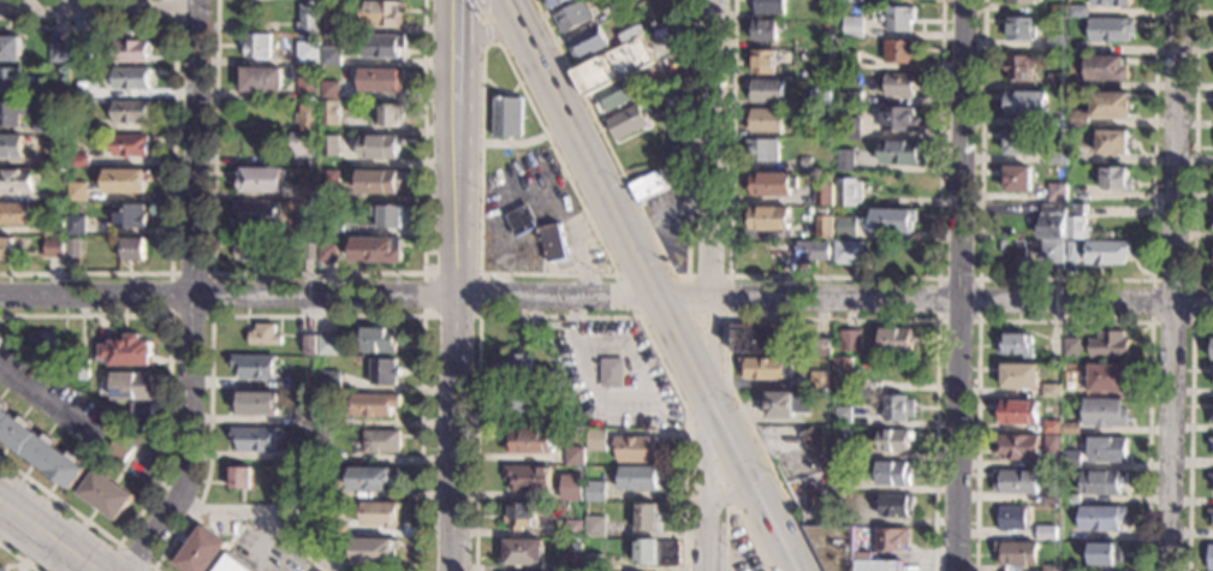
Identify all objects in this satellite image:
building: (851, 1)
building: (1023, 1)
building: (554, 4)
building: (1111, 4)
building: (768, 7)
road: (96, 11)
building: (1058, 11)
building: (1078, 12)
building: (382, 13)
road: (483, 16)
building: (575, 17)
building: (309, 18)
building: (899, 18)
building: (331, 22)
building: (852, 28)
road: (180, 29)
building: (1021, 29)
road: (486, 30)
building: (826, 30)
building: (1111, 30)
building: (763, 31)
road: (486, 32)
building: (821, 42)
building: (588, 43)
building: (1056, 43)
building: (382, 46)
building: (257, 47)
building: (1077, 48)
building: (10, 49)
building: (130, 52)
building: (902, 52)
building: (58, 53)
building: (79, 53)
building: (308, 53)
building: (331, 56)
building: (848, 61)
building: (614, 63)
building: (762, 63)
building: (1076, 65)
building: (1018, 69)
building: (1105, 69)
building: (130, 78)
building: (10, 81)
building: (262, 81)
building: (381, 81)
building: (1056, 81)
building: (899, 85)
building: (308, 88)
road: (500, 89)
building: (329, 90)
building: (766, 90)
building: (35, 94)
building: (79, 94)
building: (616, 96)
building: (820, 97)
building: (851, 99)
building: (1025, 103)
building: (1111, 105)
building: (676, 108)
road: (534, 111)
building: (14, 113)
building: (129, 113)
building: (329, 113)
building: (391, 115)
building: (307, 117)
building: (509, 118)
building: (899, 119)
building: (1077, 119)
building: (766, 120)
building: (1058, 120)
building: (629, 123)
building: (47, 124)
building: (77, 127)
building: (849, 129)
building: (820, 131)
building: (1017, 142)
road: (513, 143)
building: (1112, 143)
building: (129, 145)
building: (304, 145)
building: (11, 147)
building: (329, 147)
building: (379, 147)
road: (172, 149)
building: (763, 150)
road: (958, 151)
road: (1190, 151)
building: (903, 153)
building: (1077, 153)
building: (515, 155)
building: (673, 155)
building: (1057, 159)
building: (53, 161)
building: (78, 161)
building: (845, 161)
building: (807, 163)
building: (1017, 179)
building: (1114, 179)
building: (126, 180)
building: (260, 180)
building: (17, 182)
building: (379, 182)
building: (329, 184)
building: (771, 184)
building: (648, 188)
building: (308, 189)
building: (76, 191)
building: (849, 191)
building: (1057, 192)
building: (825, 194)
building: (57, 196)
building: (35, 197)
building: (820, 210)
building: (14, 213)
building: (257, 213)
road: (670, 213)
building: (50, 214)
building: (129, 216)
building: (387, 216)
building: (769, 218)
building: (522, 220)
building: (893, 221)
building: (1052, 221)
building: (1076, 222)
building: (76, 225)
building: (307, 225)
building: (55, 227)
building: (825, 227)
building: (846, 227)
building: (334, 228)
building: (1007, 233)
building: (1107, 236)
building: (527, 238)
building: (554, 242)
building: (1001, 246)
building: (54, 248)
building: (73, 248)
building: (249, 248)
building: (7, 249)
building: (133, 249)
building: (1021, 249)
building: (377, 250)
building: (309, 251)
building: (1071, 251)
building: (811, 252)
building: (850, 252)
building: (1050, 252)
building: (1107, 252)
building: (327, 254)
road: (668, 266)
road: (316, 273)
road: (480, 273)
road: (212, 274)
road: (671, 275)
road: (833, 278)
road: (1064, 280)
road: (456, 285)
road: (652, 285)
road: (1173, 285)
road: (715, 286)
road: (191, 293)
road: (729, 293)
road: (606, 298)
road: (308, 315)
road: (564, 316)
road: (819, 320)
road: (977, 321)
road: (1064, 321)
road: (1188, 322)
building: (264, 335)
building: (534, 335)
building: (379, 340)
building: (761, 340)
building: (850, 340)
building: (896, 341)
building: (47, 345)
building: (308, 345)
building: (328, 345)
building: (1016, 345)
building: (1108, 345)
building: (822, 347)
building: (1072, 347)
building: (1212, 349)
building: (126, 352)
building: (519, 367)
building: (255, 368)
building: (81, 369)
building: (765, 369)
building: (383, 371)
building: (612, 373)
road: (643, 374)
building: (844, 374)
building: (1212, 375)
building: (1021, 376)
building: (1105, 379)
building: (329, 381)
building: (820, 381)
building: (132, 386)
building: (1052, 391)
building: (255, 403)
building: (522, 403)
road: (47, 405)
building: (373, 405)
building: (786, 405)
building: (897, 408)
building: (141, 411)
building: (1212, 412)
building: (1019, 414)
building: (1105, 414)
building: (843, 415)
building: (304, 418)
building: (323, 422)
road: (170, 423)
building: (1052, 427)
building: (1070, 428)
road: (1187, 434)
road: (952, 438)
building: (254, 440)
building: (597, 440)
building: (894, 440)
building: (381, 441)
building: (531, 442)
building: (1053, 444)
building: (1211, 444)
building: (815, 446)
building: (1018, 447)
building: (840, 448)
building: (119, 450)
building: (640, 450)
building: (38, 451)
building: (1107, 451)
building: (304, 453)
building: (575, 456)
building: (332, 458)
building: (93, 459)
building: (589, 460)
road: (709, 460)
building: (1070, 460)
building: (893, 475)
building: (641, 477)
building: (240, 478)
building: (373, 478)
building: (529, 478)
building: (1211, 478)
building: (1015, 482)
building: (1102, 482)
building: (840, 483)
building: (1212, 483)
building: (325, 490)
building: (596, 490)
building: (576, 492)
building: (106, 495)
road: (729, 495)
building: (1051, 498)
building: (1070, 499)
building: (897, 506)
road: (735, 510)
road: (263, 511)
building: (335, 512)
building: (379, 515)
building: (1209, 515)
building: (287, 516)
building: (521, 517)
building: (648, 518)
building: (1011, 518)
building: (1100, 518)
building: (596, 527)
building: (575, 529)
building: (337, 531)
road: (49, 535)
building: (1056, 536)
building: (892, 540)
building: (579, 543)
road: (123, 547)
building: (338, 548)
building: (844, 551)
building: (201, 552)
building: (374, 552)
building: (524, 553)
building: (658, 553)
building: (1016, 554)
building: (1104, 554)
road: (18, 557)
building: (1211, 559)
building: (572, 563)
building: (594, 563)
building: (233, 565)
building: (1066, 567)
building: (1051, 569)
building: (0, 570)

